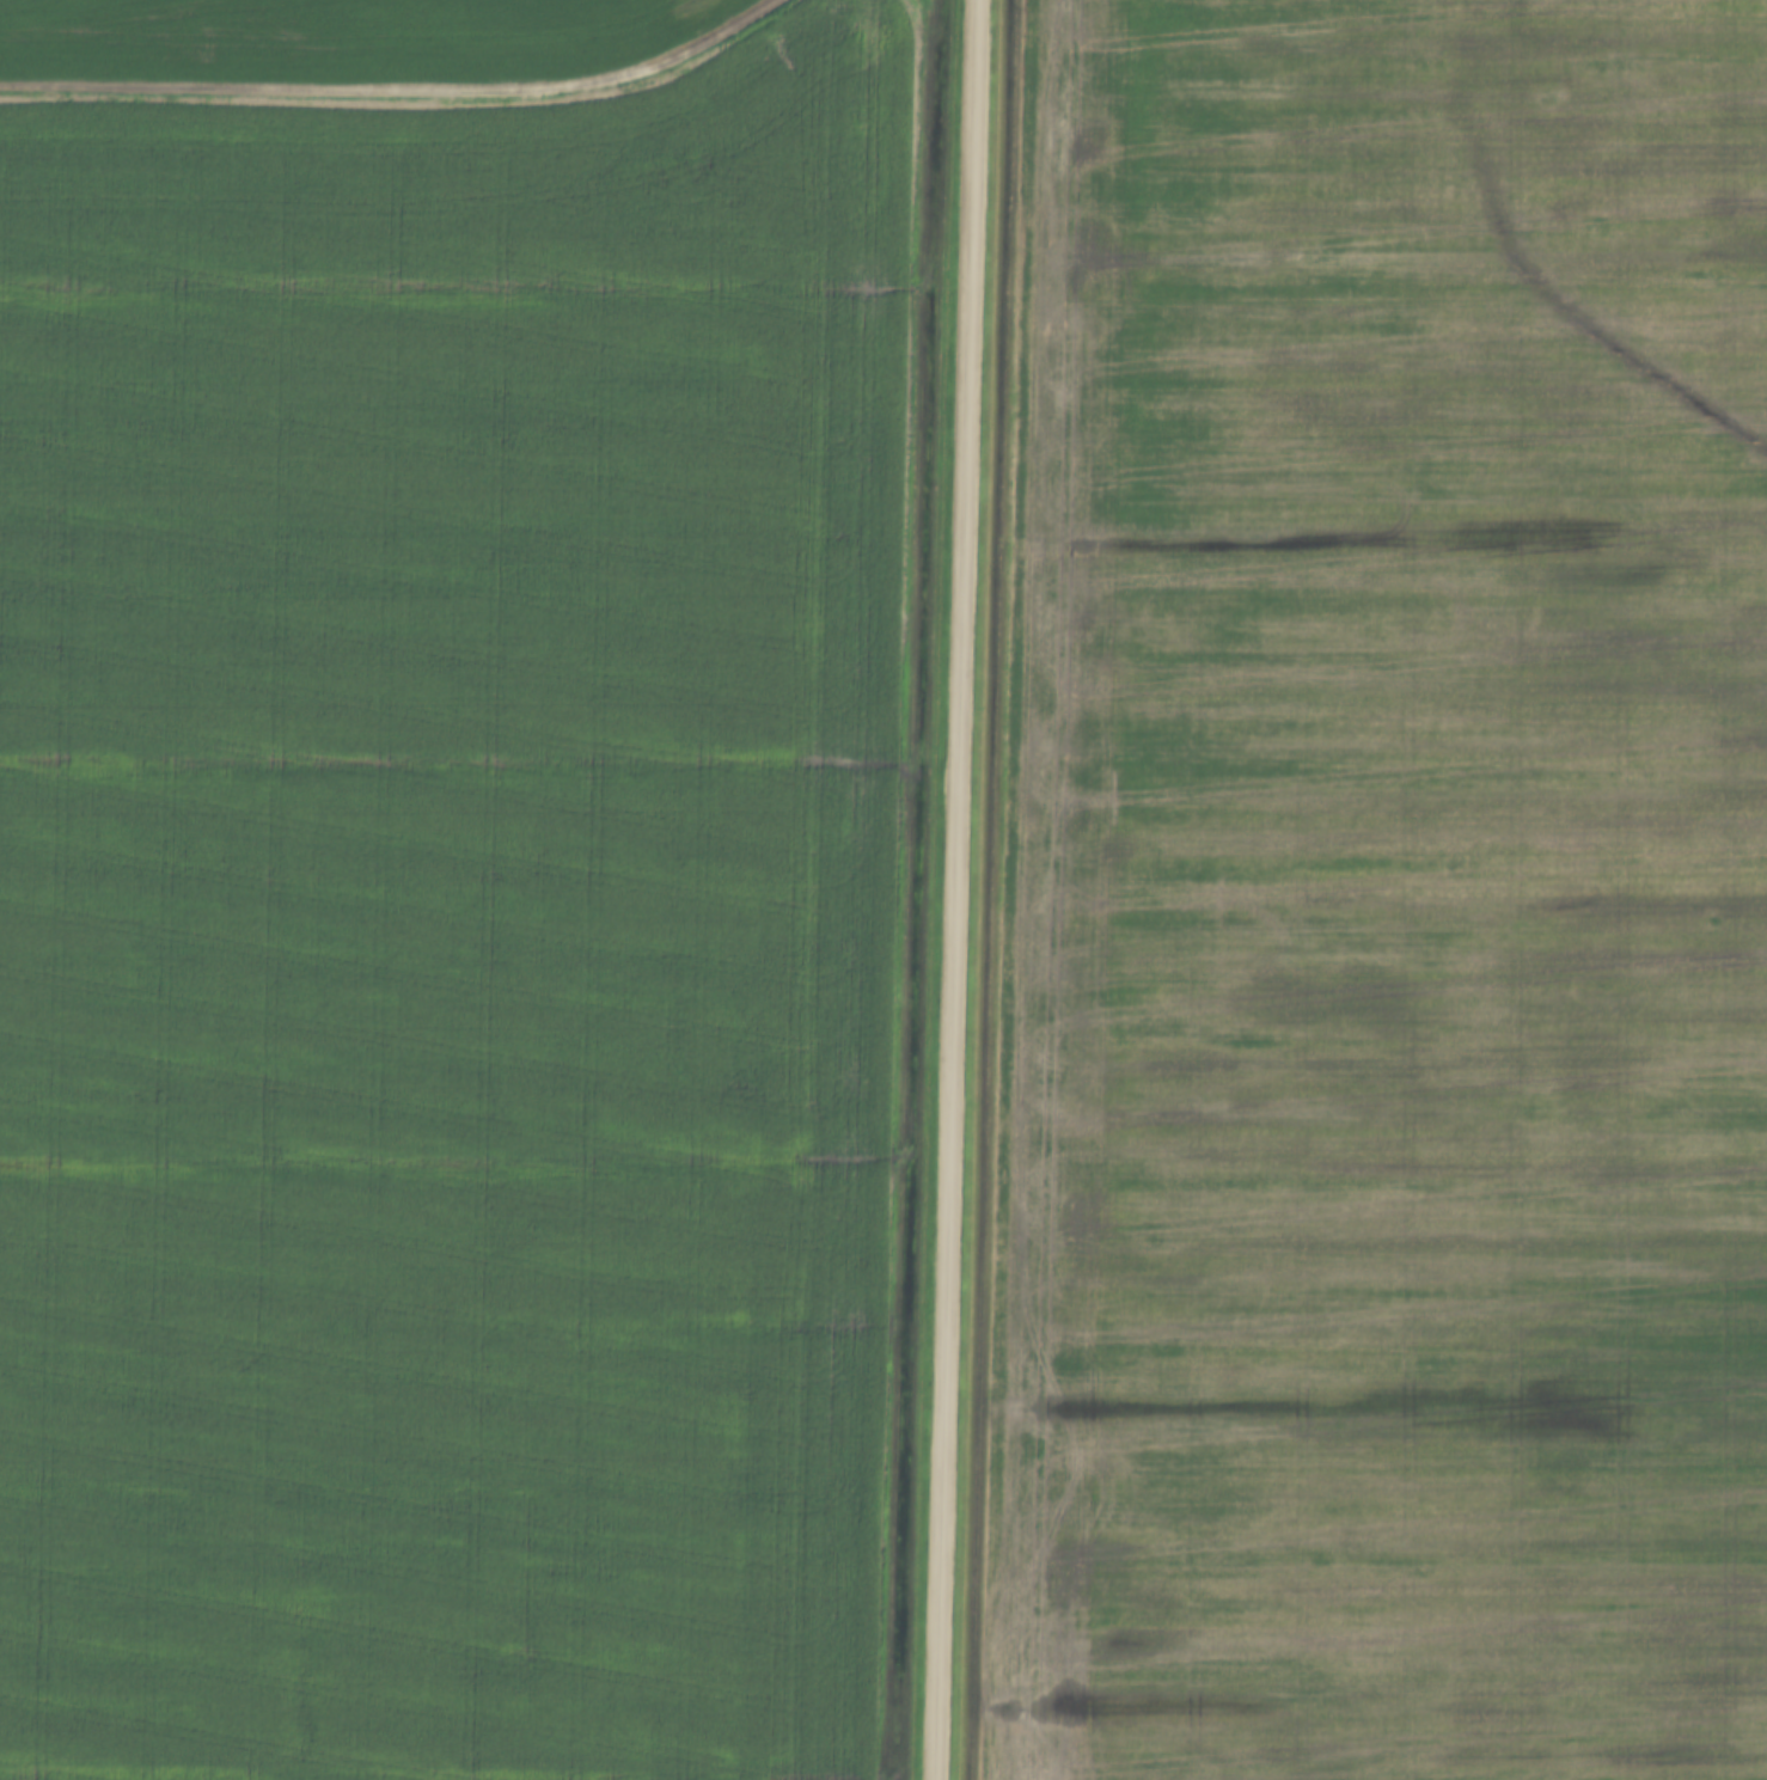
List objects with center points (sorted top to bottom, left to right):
crop: (335, 39)
road: (396, 94)
road: (956, 889)
crop: (1380, 898)
crop: (459, 923)

